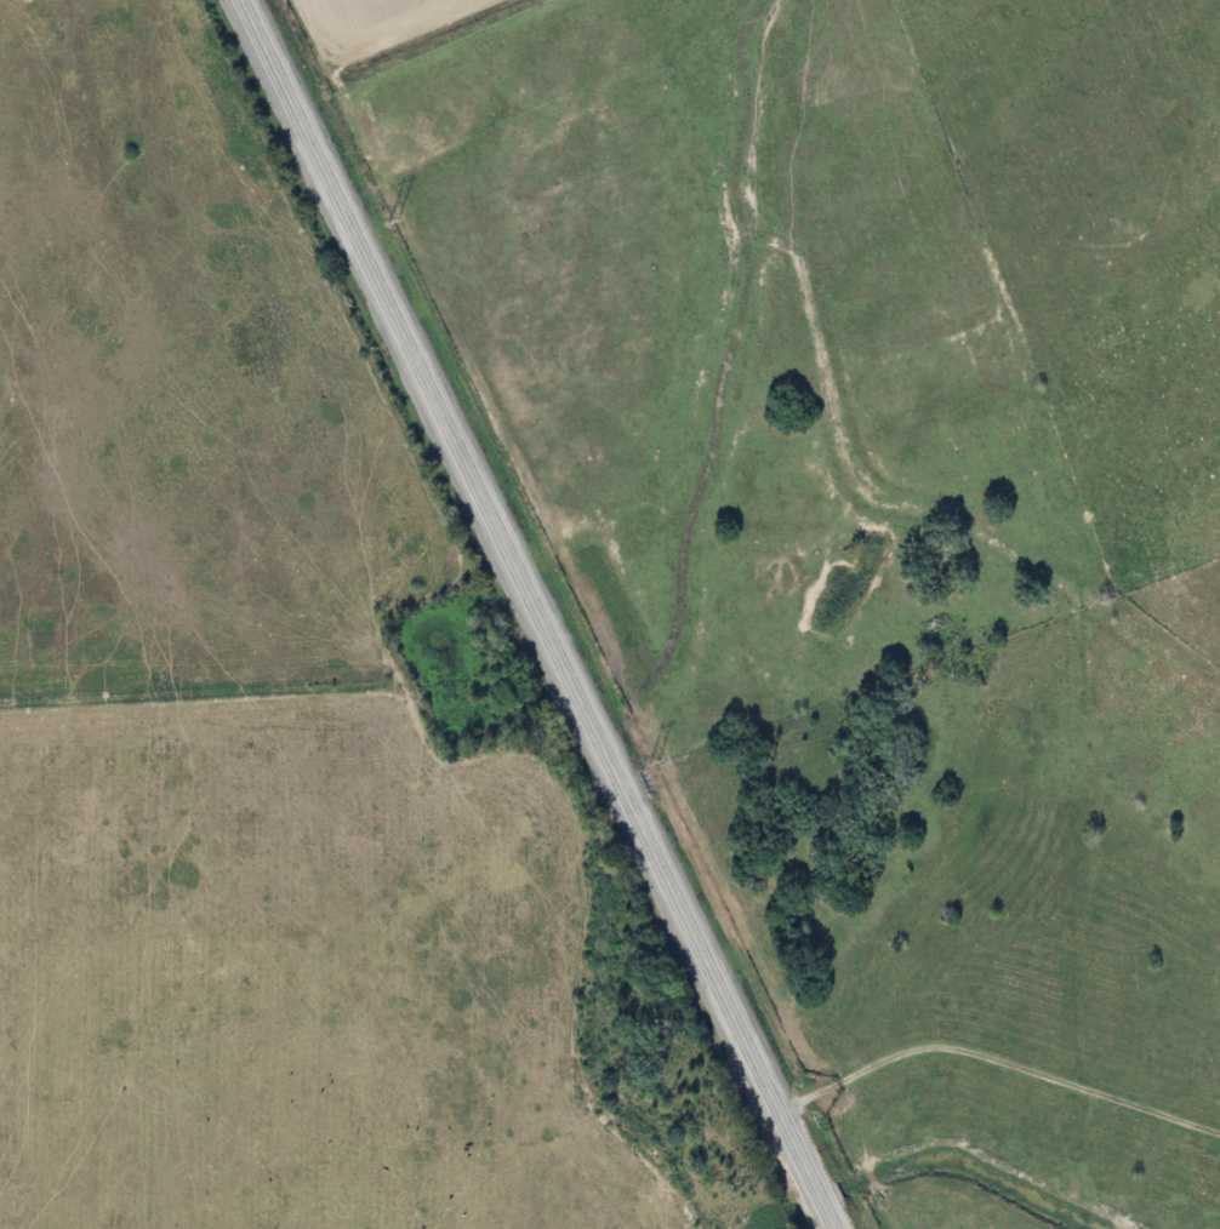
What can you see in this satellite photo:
power tower: (392, 221)
road: (536, 614)
power tower: (652, 761)
road: (997, 1061)

